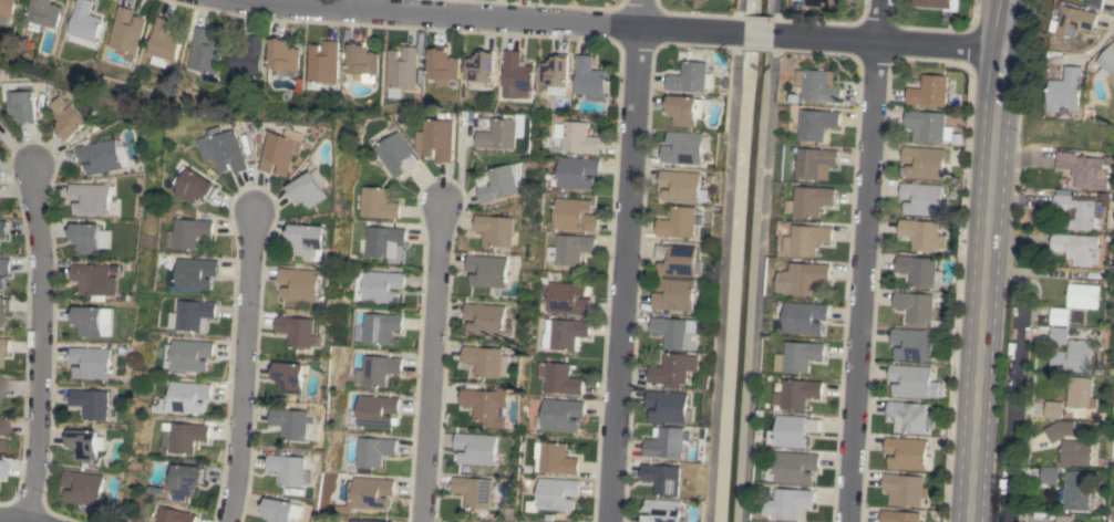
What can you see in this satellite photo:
building: (704, 0)
building: (1097, 2)
building: (818, 3)
building: (932, 3)
building: (7, 7)
building: (43, 12)
building: (1075, 21)
building: (83, 22)
road: (621, 27)
building: (125, 32)
building: (163, 40)
building: (205, 53)
building: (282, 55)
building: (245, 60)
building: (362, 63)
building: (321, 64)
building: (1108, 64)
building: (442, 66)
building: (479, 66)
building: (401, 70)
building: (555, 72)
building: (516, 76)
building: (589, 77)
building: (691, 77)
building: (818, 85)
building: (929, 91)
building: (1069, 92)
building: (24, 101)
building: (685, 109)
building: (73, 118)
building: (817, 123)
building: (930, 127)
building: (501, 134)
building: (576, 137)
building: (437, 139)
building: (683, 147)
road: (20, 149)
building: (225, 149)
building: (282, 152)
building: (396, 155)
building: (104, 156)
building: (815, 161)
building: (924, 163)
building: (1081, 171)
building: (575, 173)
building: (502, 181)
building: (193, 186)
building: (683, 187)
building: (309, 190)
building: (96, 199)
building: (921, 199)
building: (813, 200)
building: (378, 203)
building: (1077, 212)
building: (573, 215)
building: (679, 222)
building: (2, 228)
building: (496, 230)
building: (189, 232)
building: (921, 234)
building: (91, 237)
building: (807, 239)
building: (310, 240)
building: (383, 240)
building: (1076, 248)
building: (569, 249)
building: (678, 259)
road: (866, 260)
road: (983, 260)
road: (626, 261)
building: (4, 265)
building: (489, 271)
building: (919, 271)
building: (193, 273)
building: (804, 278)
building: (96, 281)
building: (2, 282)
building: (301, 283)
building: (379, 285)
building: (675, 294)
building: (1081, 295)
building: (566, 299)
building: (4, 306)
building: (915, 306)
building: (192, 315)
building: (1059, 316)
building: (805, 317)
building: (486, 319)
building: (94, 320)
building: (380, 327)
building: (298, 331)
building: (677, 332)
building: (564, 333)
building: (1058, 335)
road: (45, 343)
building: (912, 344)
building: (4, 346)
building: (187, 355)
building: (800, 356)
building: (1072, 357)
building: (488, 361)
building: (93, 363)
road: (433, 363)
road: (248, 367)
building: (674, 368)
building: (375, 370)
building: (292, 377)
building: (559, 378)
building: (914, 382)
building: (2, 386)
building: (1079, 393)
building: (797, 394)
building: (184, 398)
building: (93, 403)
building: (486, 405)
building: (669, 406)
building: (1053, 408)
road: (1014, 409)
building: (374, 410)
building: (561, 414)
building: (908, 416)
building: (292, 422)
building: (2, 426)
building: (1059, 429)
building: (793, 430)
building: (184, 436)
building: (0, 442)
building: (669, 442)
building: (87, 443)
building: (476, 448)
building: (373, 452)
building: (1075, 452)
building: (906, 453)
building: (554, 458)
building: (2, 468)
building: (794, 468)
building: (291, 469)
building: (1049, 474)
building: (663, 478)
building: (185, 479)
building: (85, 487)
building: (904, 489)
building: (1076, 490)
building: (474, 491)
building: (557, 493)
building: (368, 494)
building: (790, 503)
building: (280, 510)
building: (663, 511)
building: (171, 515)
building: (899, 516)
building: (1064, 518)
building: (1113, 518)
road: (20, 520)
building: (367, 520)

